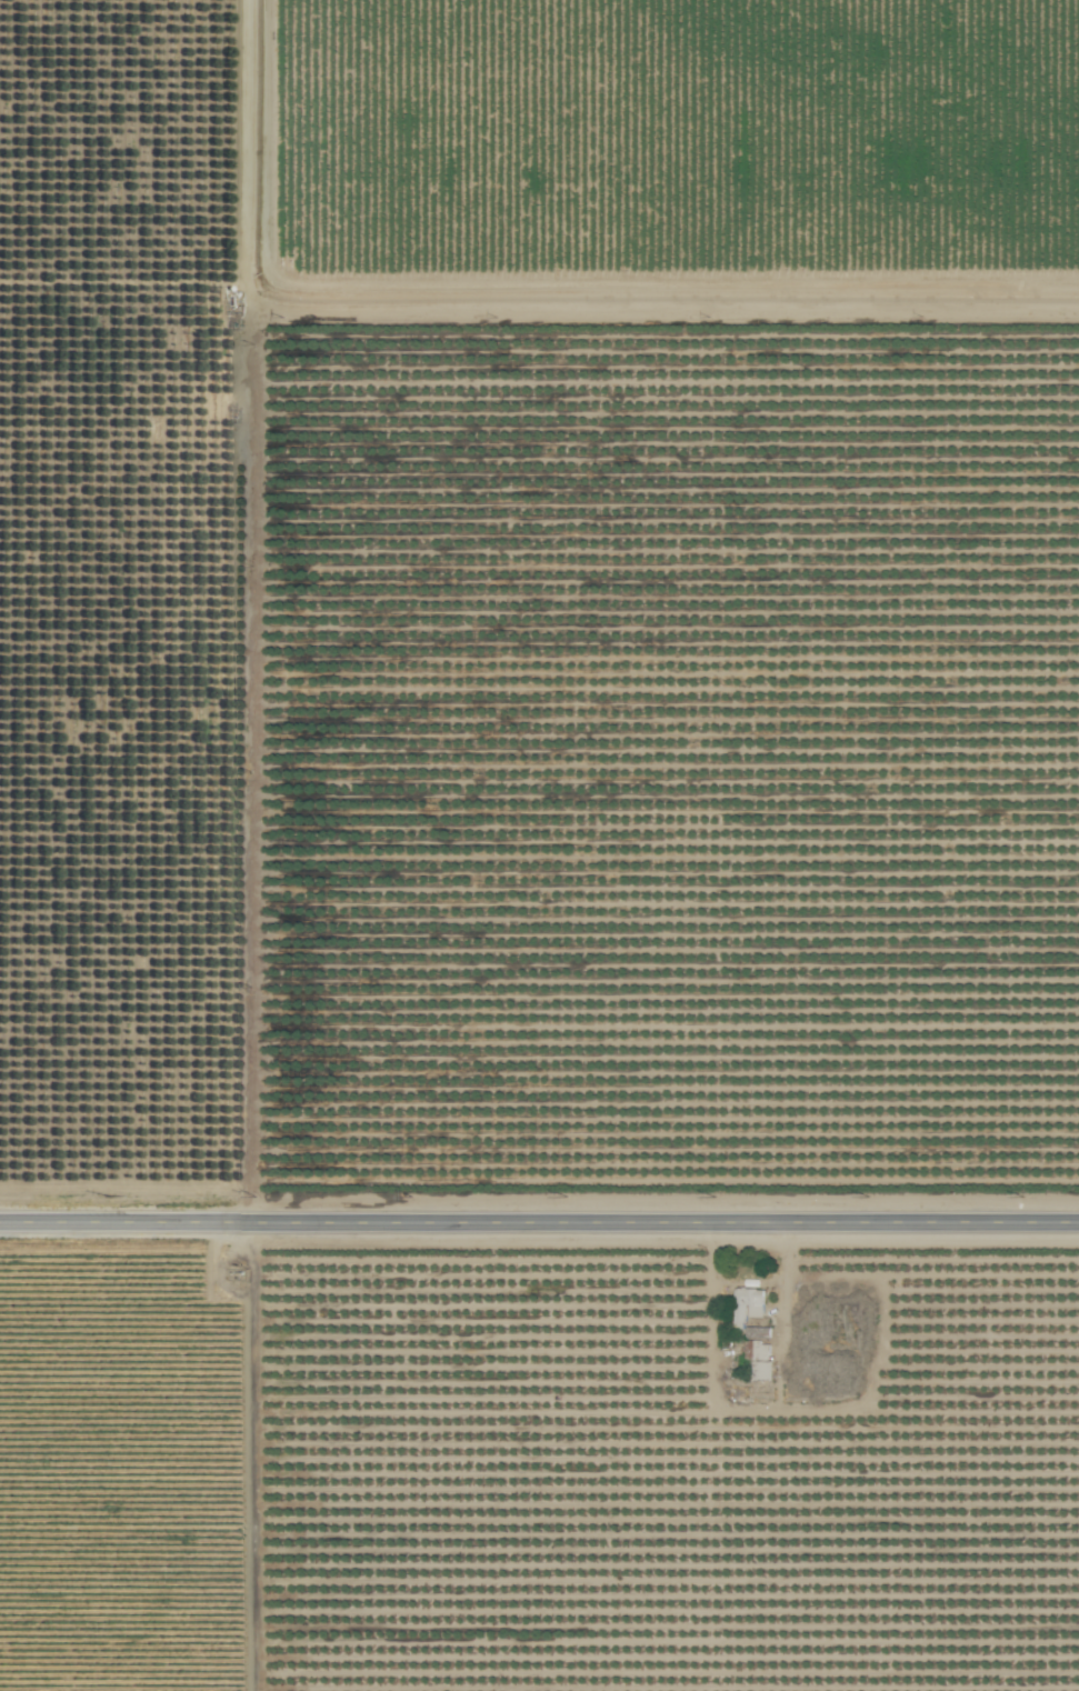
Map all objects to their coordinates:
road: (257, 845)
crop: (539, 845)
road: (539, 1222)
building: (751, 1313)
building: (765, 1361)
building: (829, 1361)

